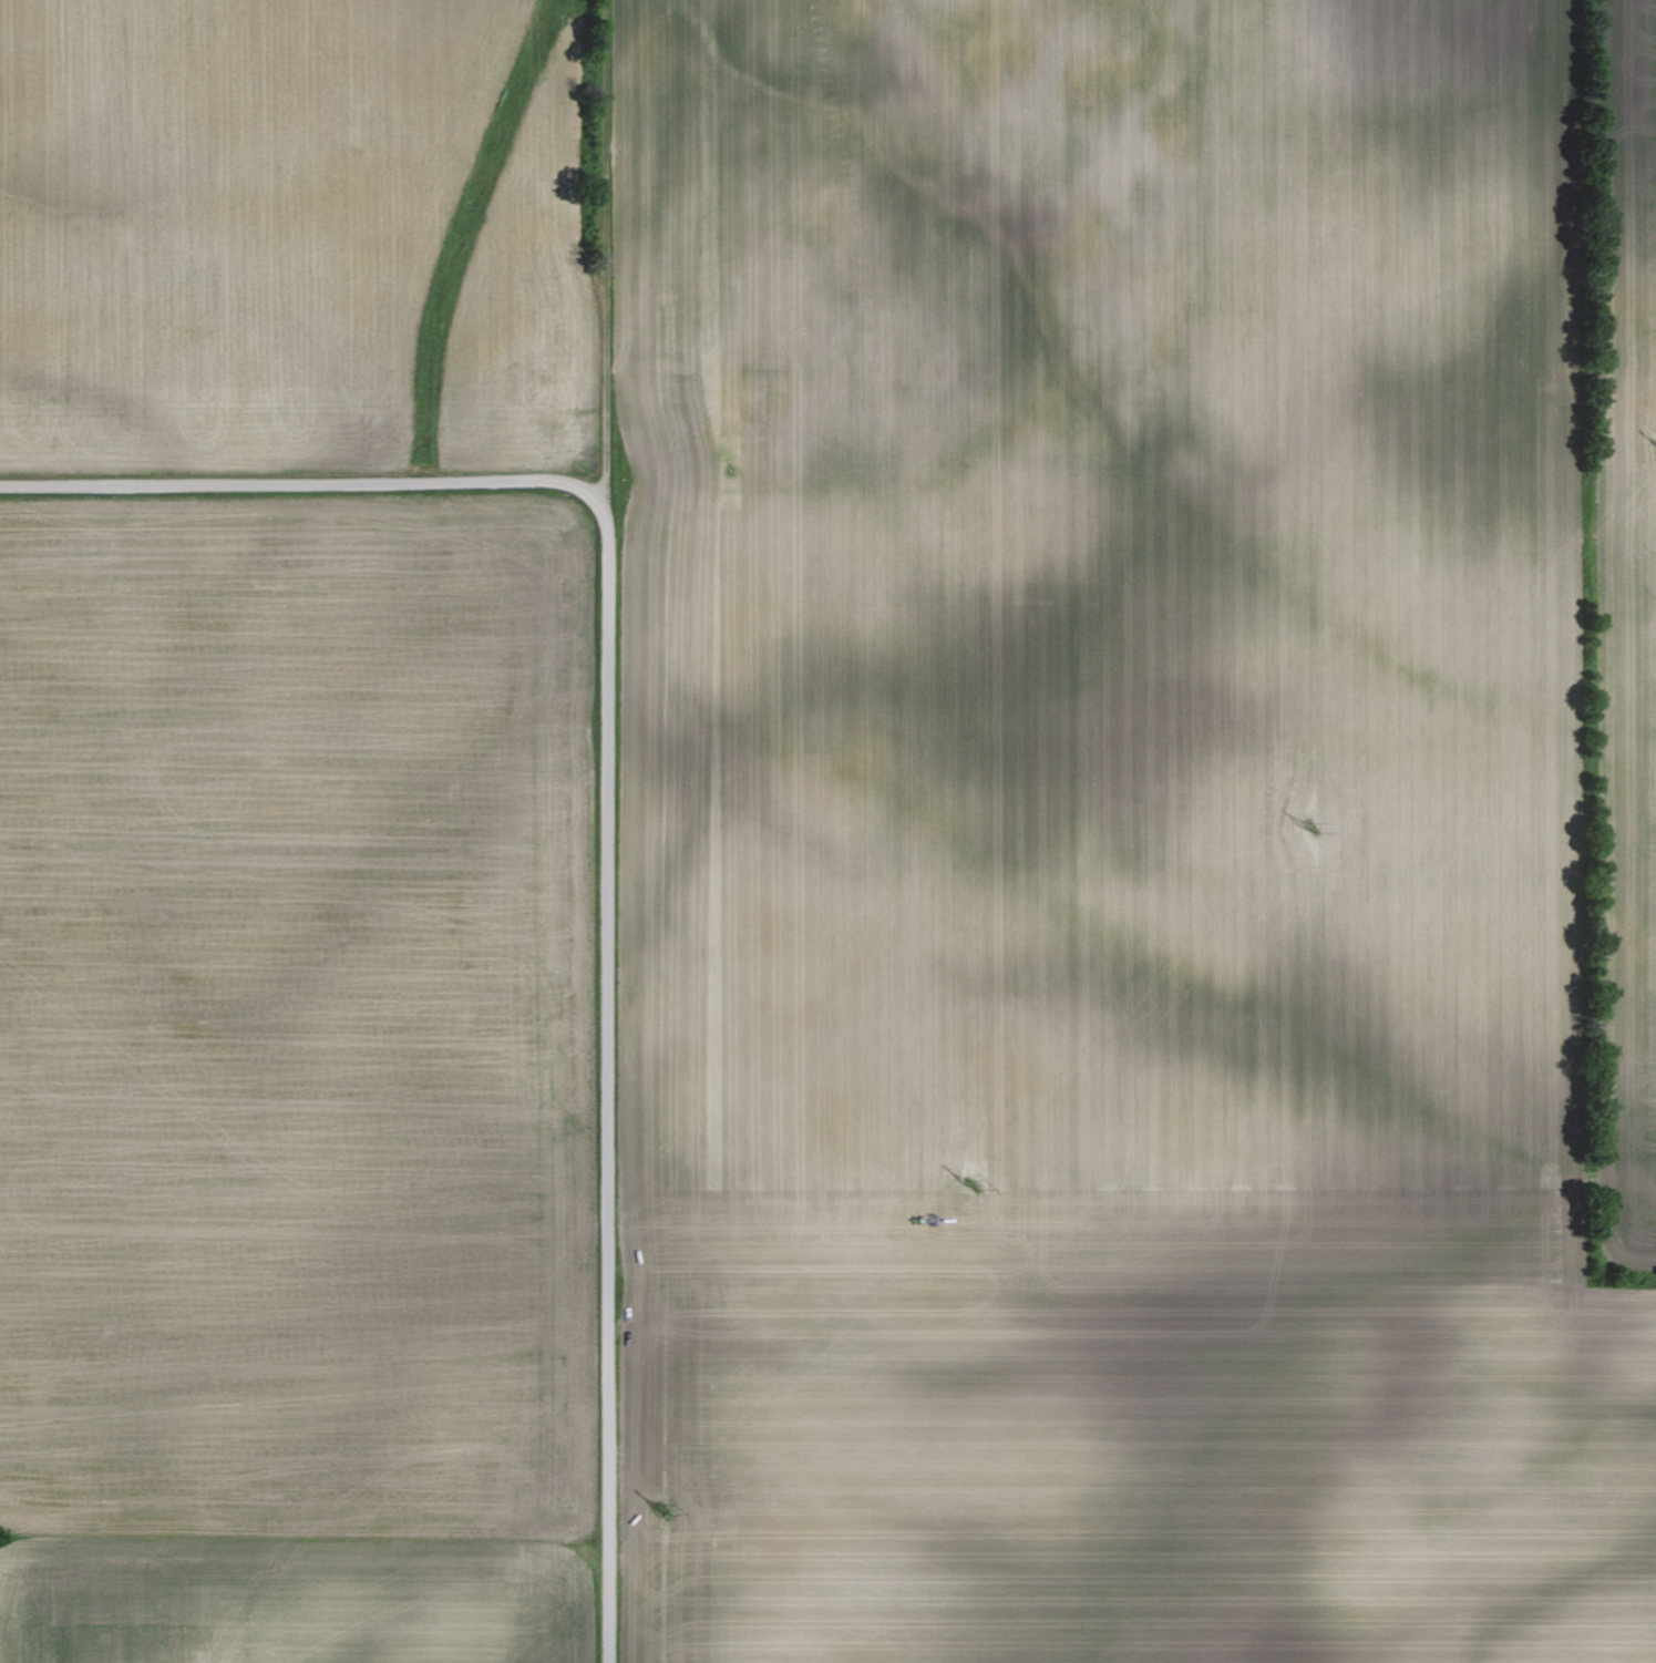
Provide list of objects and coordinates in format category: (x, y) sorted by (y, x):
road: (601, 248)
road: (297, 481)
power tower: (1312, 825)
road: (606, 1076)
power tower: (969, 1185)
power tower: (660, 1510)

